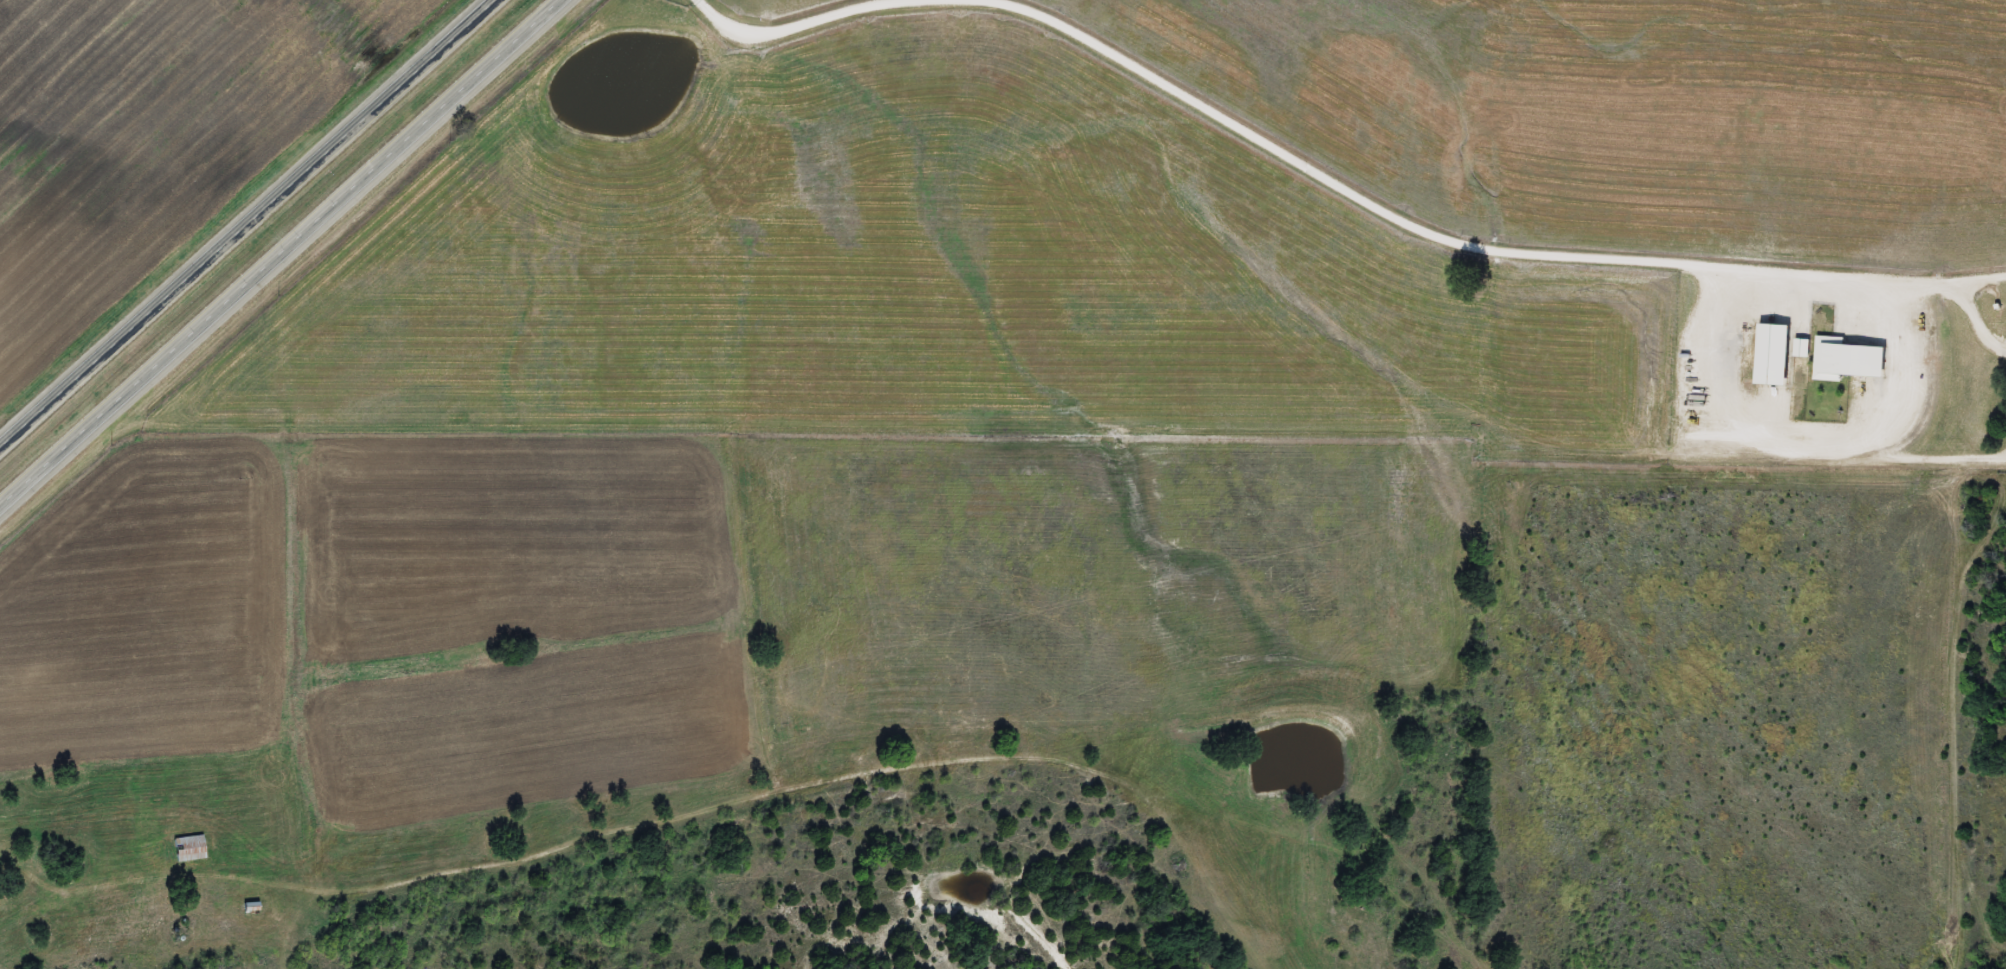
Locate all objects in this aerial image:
road: (252, 226)
road: (284, 256)
building: (188, 848)

